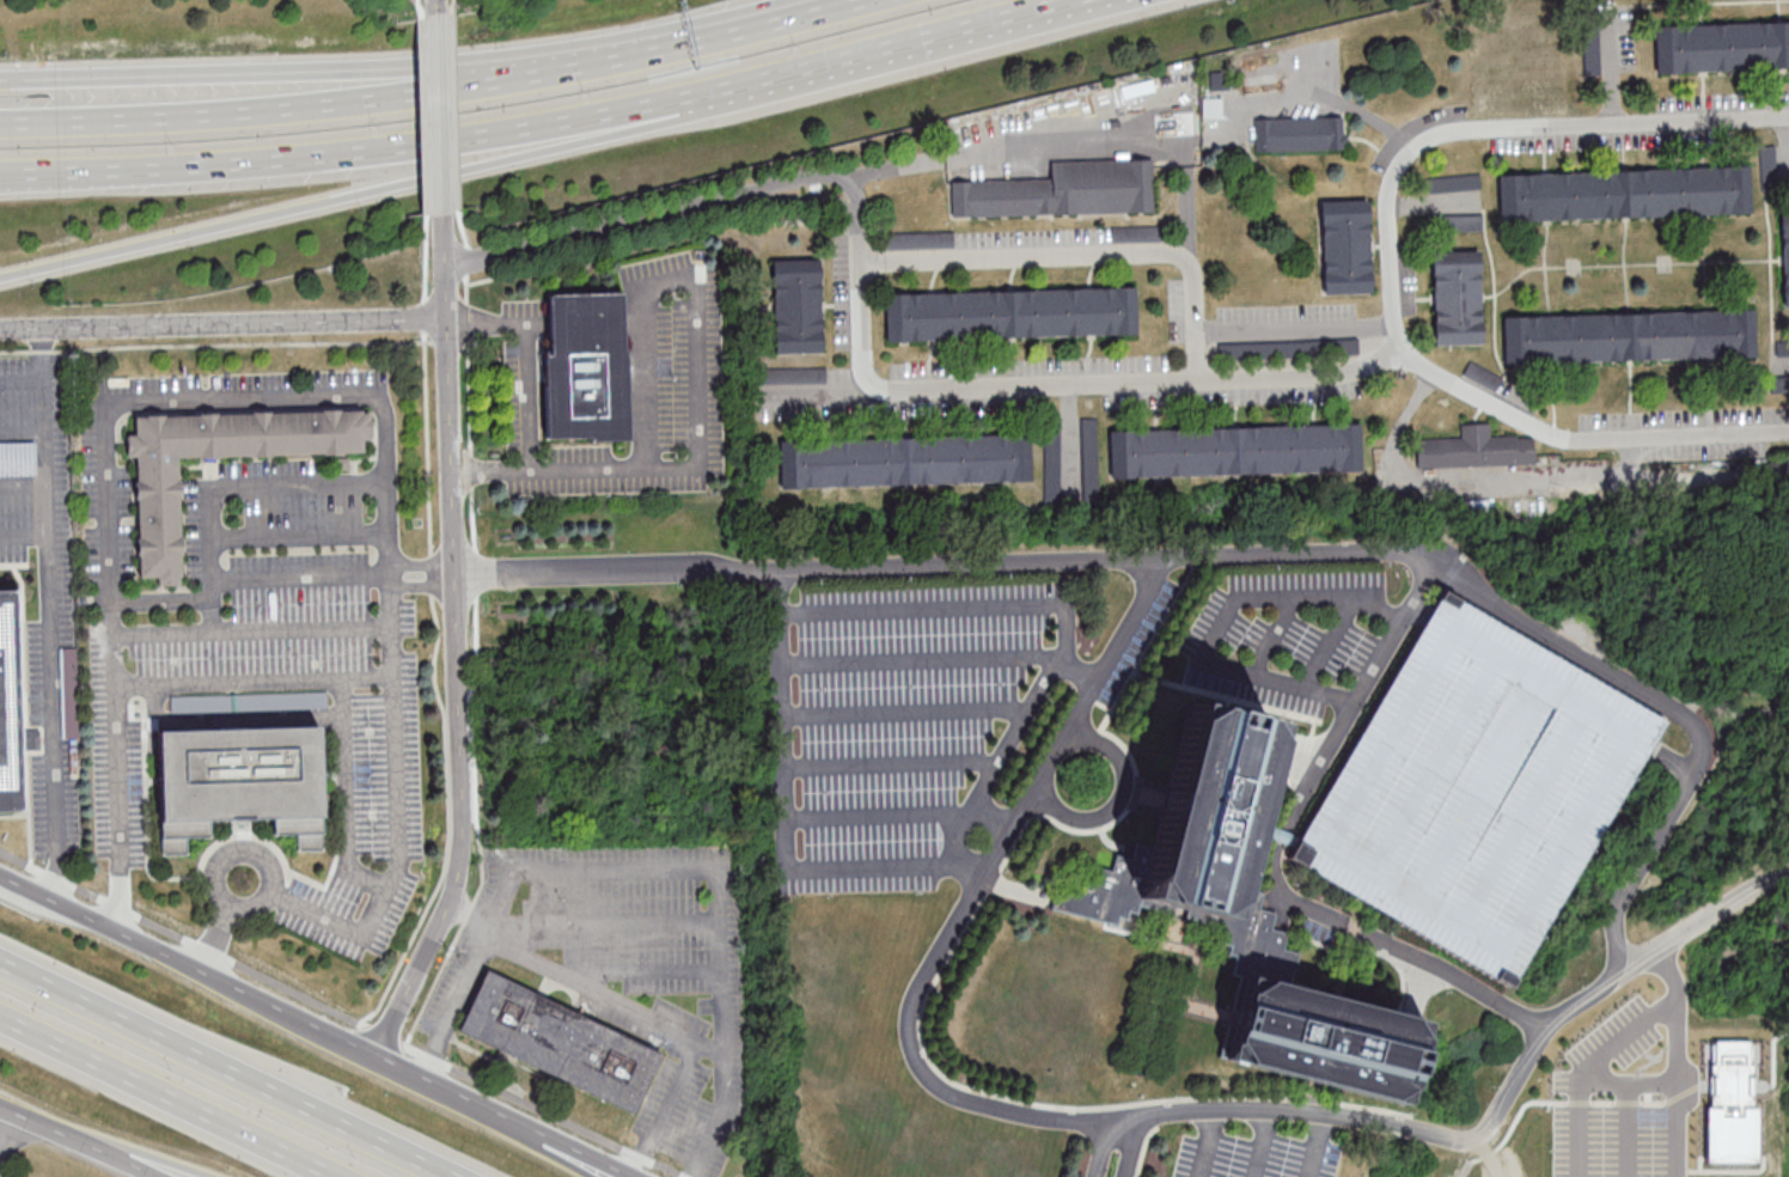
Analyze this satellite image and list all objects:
road: (436, 8)
road: (771, 23)
road: (917, 43)
building: (1722, 45)
road: (627, 55)
road: (288, 73)
road: (289, 106)
building: (1214, 106)
road: (440, 115)
road: (1372, 117)
road: (1068, 129)
building: (1300, 133)
road: (377, 148)
building: (1769, 163)
road: (59, 176)
building: (1454, 183)
road: (377, 190)
building: (1062, 190)
building: (1624, 193)
road: (678, 214)
building: (1464, 222)
building: (1345, 245)
road: (1083, 256)
building: (1784, 257)
road: (1392, 263)
building: (1457, 295)
building: (796, 305)
building: (1010, 312)
road: (222, 325)
road: (1298, 333)
building: (1628, 335)
building: (1288, 347)
road: (529, 353)
road: (42, 356)
building: (586, 365)
road: (700, 374)
road: (1077, 384)
road: (188, 402)
road: (22, 429)
building: (1474, 449)
building: (1235, 450)
building: (905, 461)
building: (1051, 462)
road: (23, 480)
road: (246, 488)
building: (159, 517)
road: (298, 531)
road: (24, 535)
road: (389, 577)
road: (783, 592)
road: (1219, 620)
road: (50, 621)
road: (251, 629)
parking lot: (1287, 634)
road: (459, 647)
road: (783, 653)
road: (922, 655)
road: (225, 679)
road: (1366, 688)
building: (244, 701)
building: (11, 708)
road: (903, 709)
parking lot: (908, 719)
road: (996, 755)
road: (891, 761)
building: (239, 781)
building: (1473, 789)
parking lot: (1473, 789)
road: (346, 792)
road: (1121, 799)
road: (116, 807)
road: (994, 809)
road: (878, 813)
road: (1281, 833)
road: (654, 870)
road: (1637, 877)
road: (18, 880)
road: (265, 902)
road: (605, 919)
building: (1247, 919)
road: (1701, 919)
road: (214, 940)
road: (1393, 944)
road: (146, 945)
parking lot: (627, 968)
road: (630, 970)
road: (1195, 970)
road: (1669, 972)
road: (660, 1024)
building: (560, 1042)
road: (384, 1067)
road: (1587, 1069)
road: (221, 1071)
road: (1628, 1086)
road: (1675, 1088)
road: (164, 1098)
road: (35, 1124)
road: (1628, 1132)
road: (10, 1136)
road: (1205, 1145)
road: (1260, 1145)
road: (1313, 1146)
road: (1099, 1149)
road: (1130, 1151)
road: (557, 1152)
road: (569, 1152)
parking lot: (1250, 1157)
road: (109, 1159)
road: (139, 1159)

